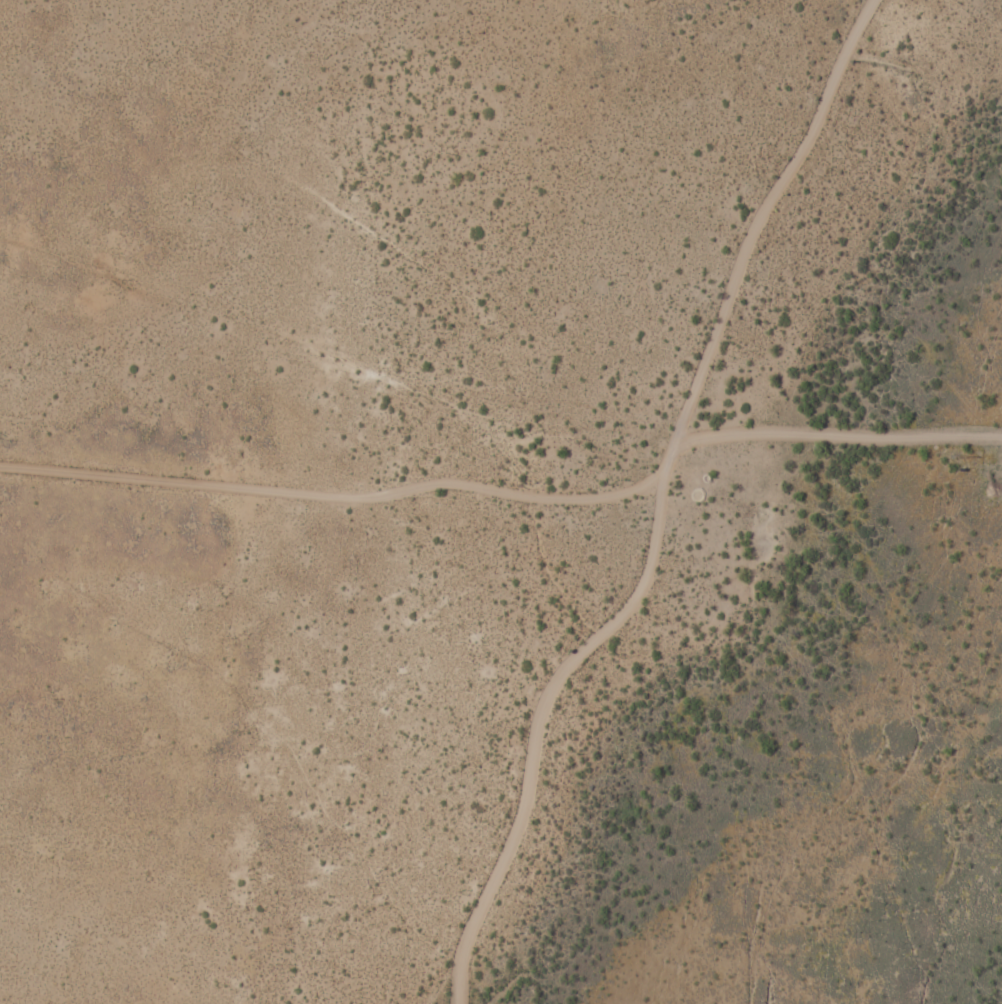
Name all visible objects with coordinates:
road: (835, 434)
road: (335, 495)
road: (659, 510)

